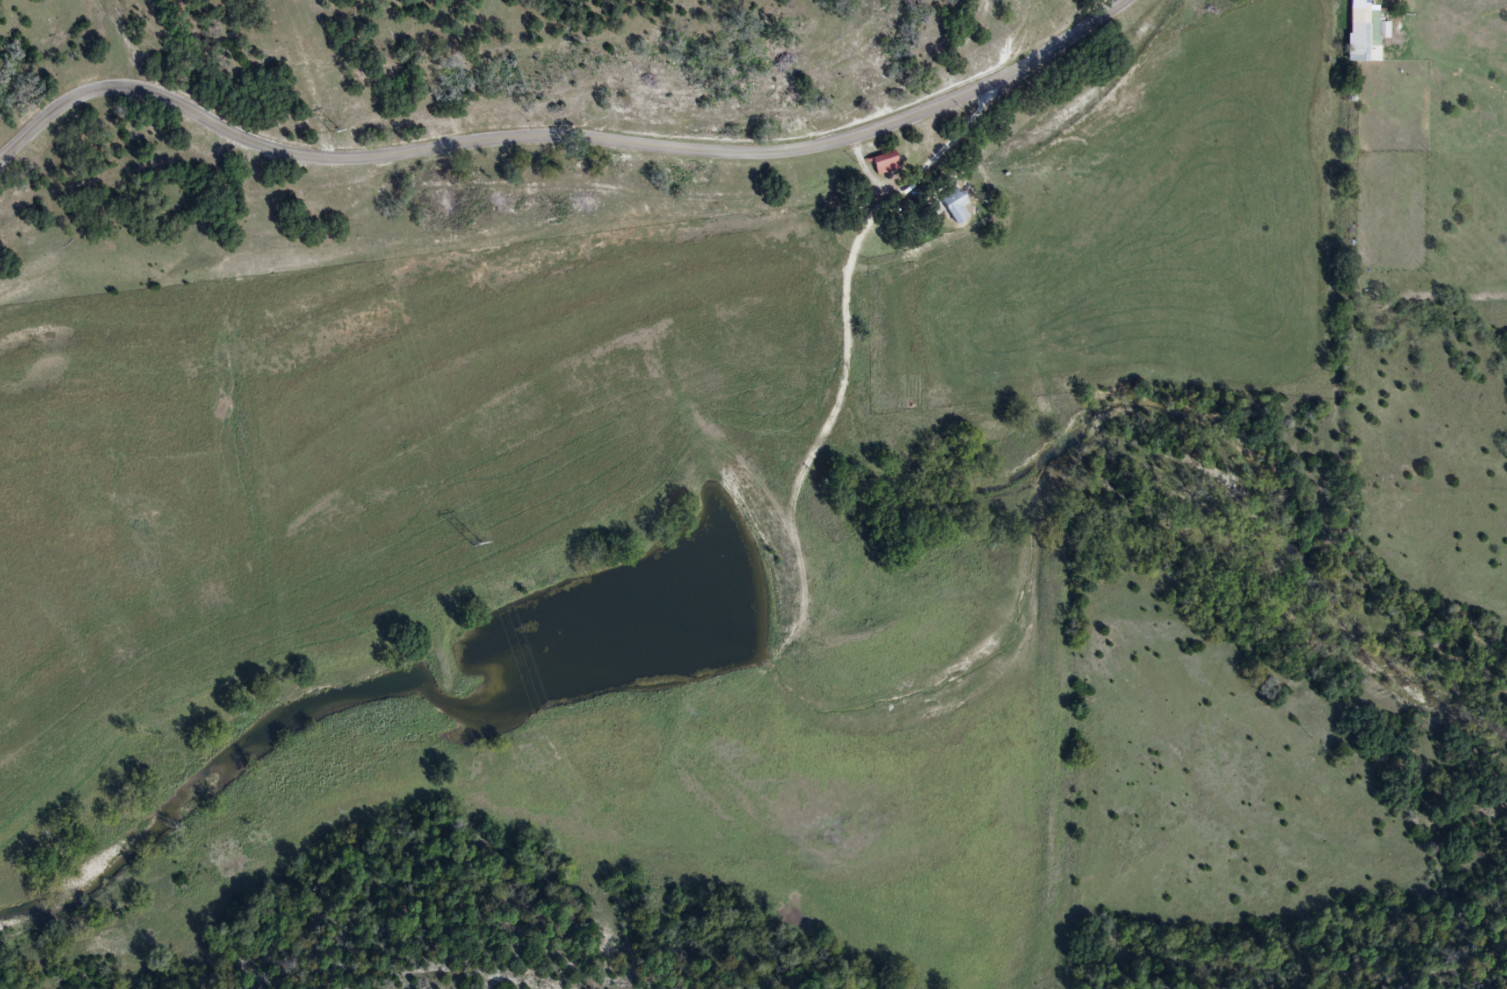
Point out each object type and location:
building: (1356, 18)
building: (1380, 29)
power tower: (329, 132)
road: (563, 139)
building: (884, 162)
building: (955, 205)
power tower: (469, 544)

